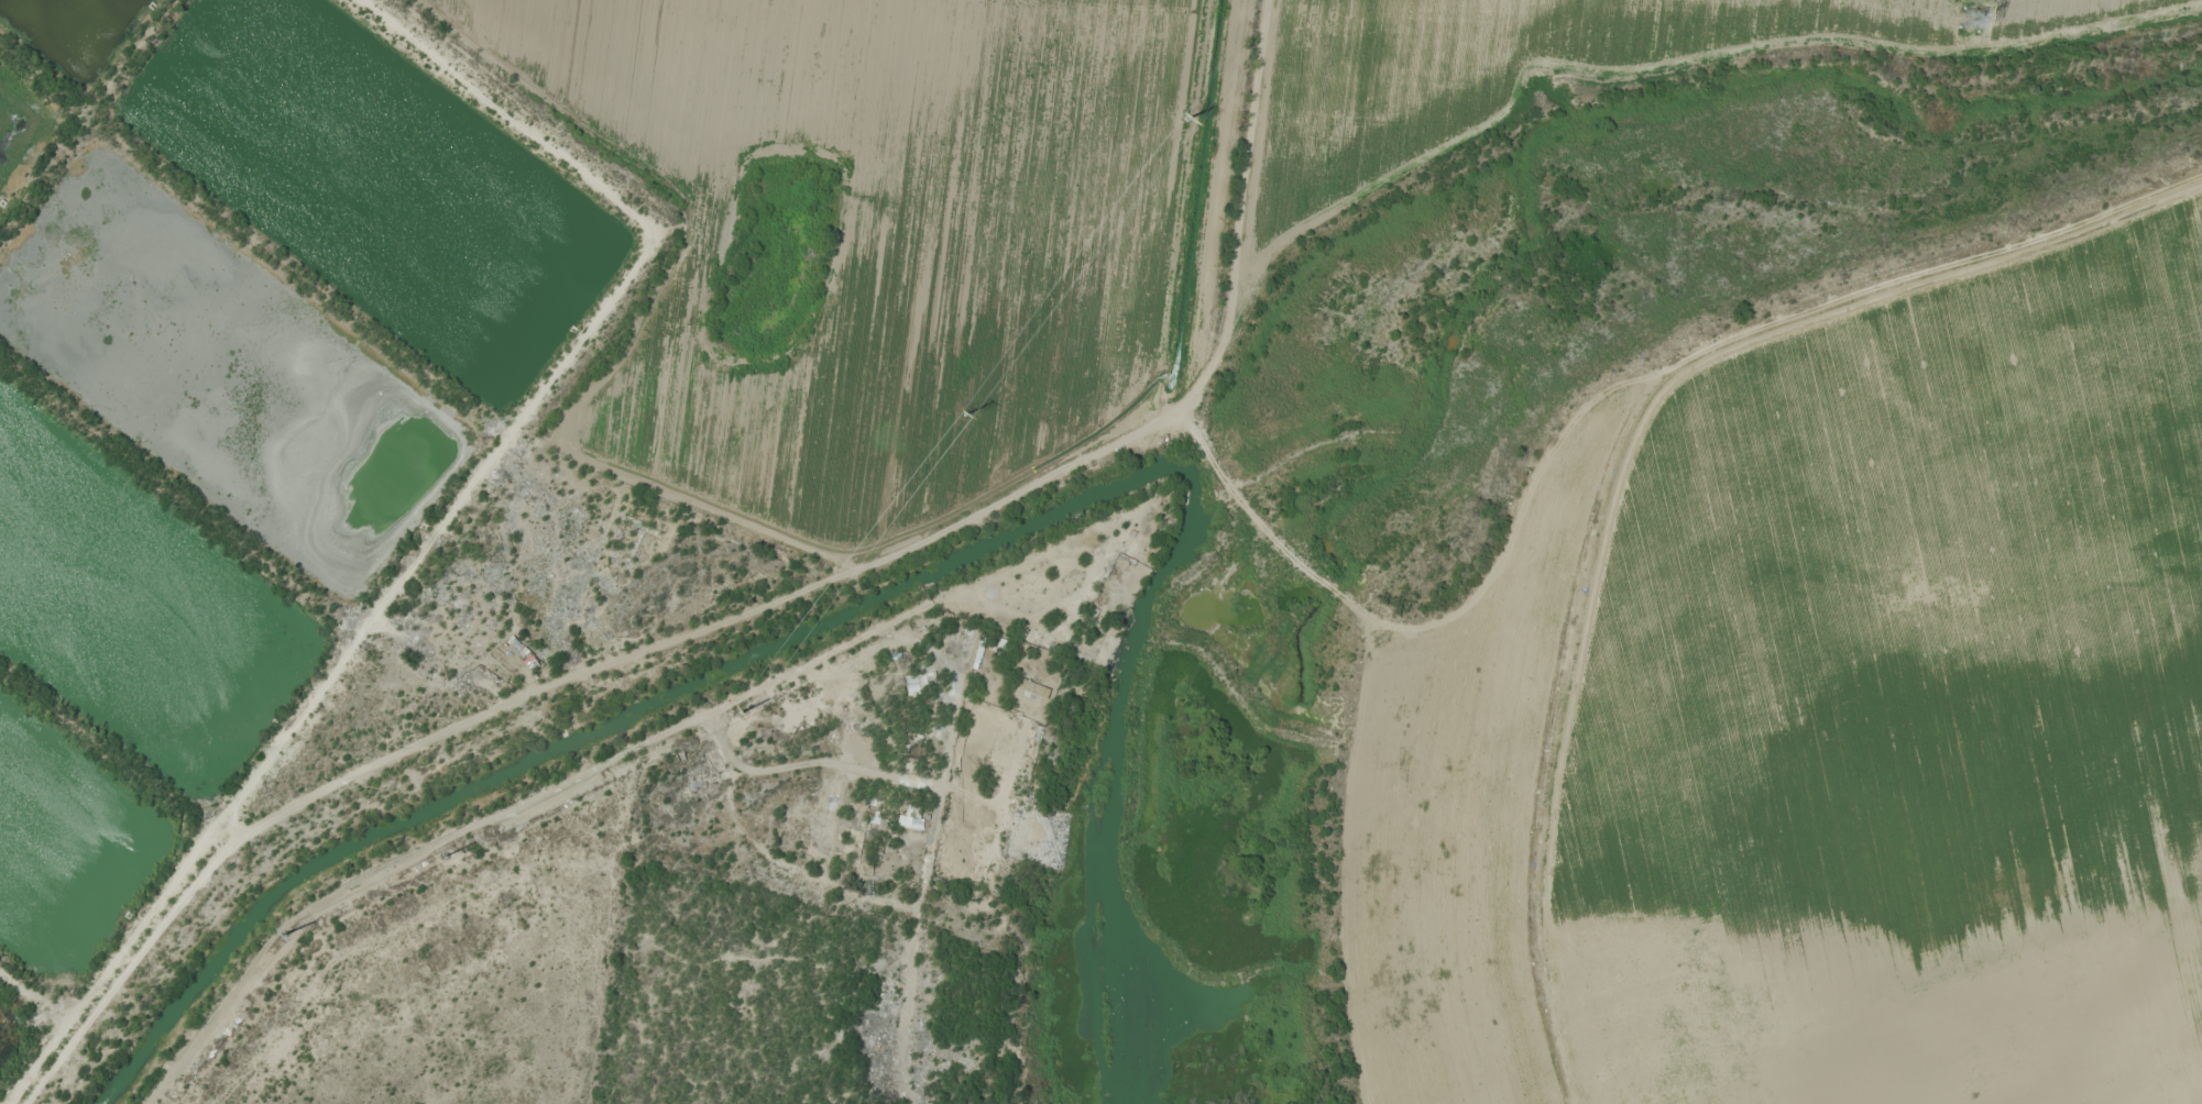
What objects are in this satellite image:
power tower: (1943, 7)
power tower: (1185, 117)
power tower: (953, 411)
power tower: (742, 710)
power tower: (439, 850)
power tower: (277, 932)

